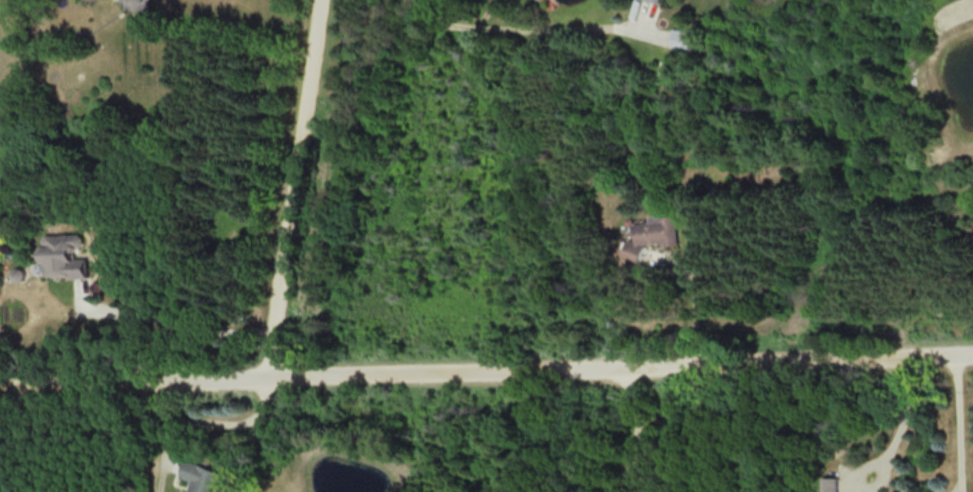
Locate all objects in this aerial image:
building: (660, 0)
building: (138, 4)
road: (519, 25)
road: (297, 188)
building: (652, 234)
building: (65, 255)
road: (173, 314)
road: (486, 368)
road: (899, 414)
road: (213, 417)
road: (958, 421)
road: (636, 427)
building: (203, 476)
building: (830, 483)

